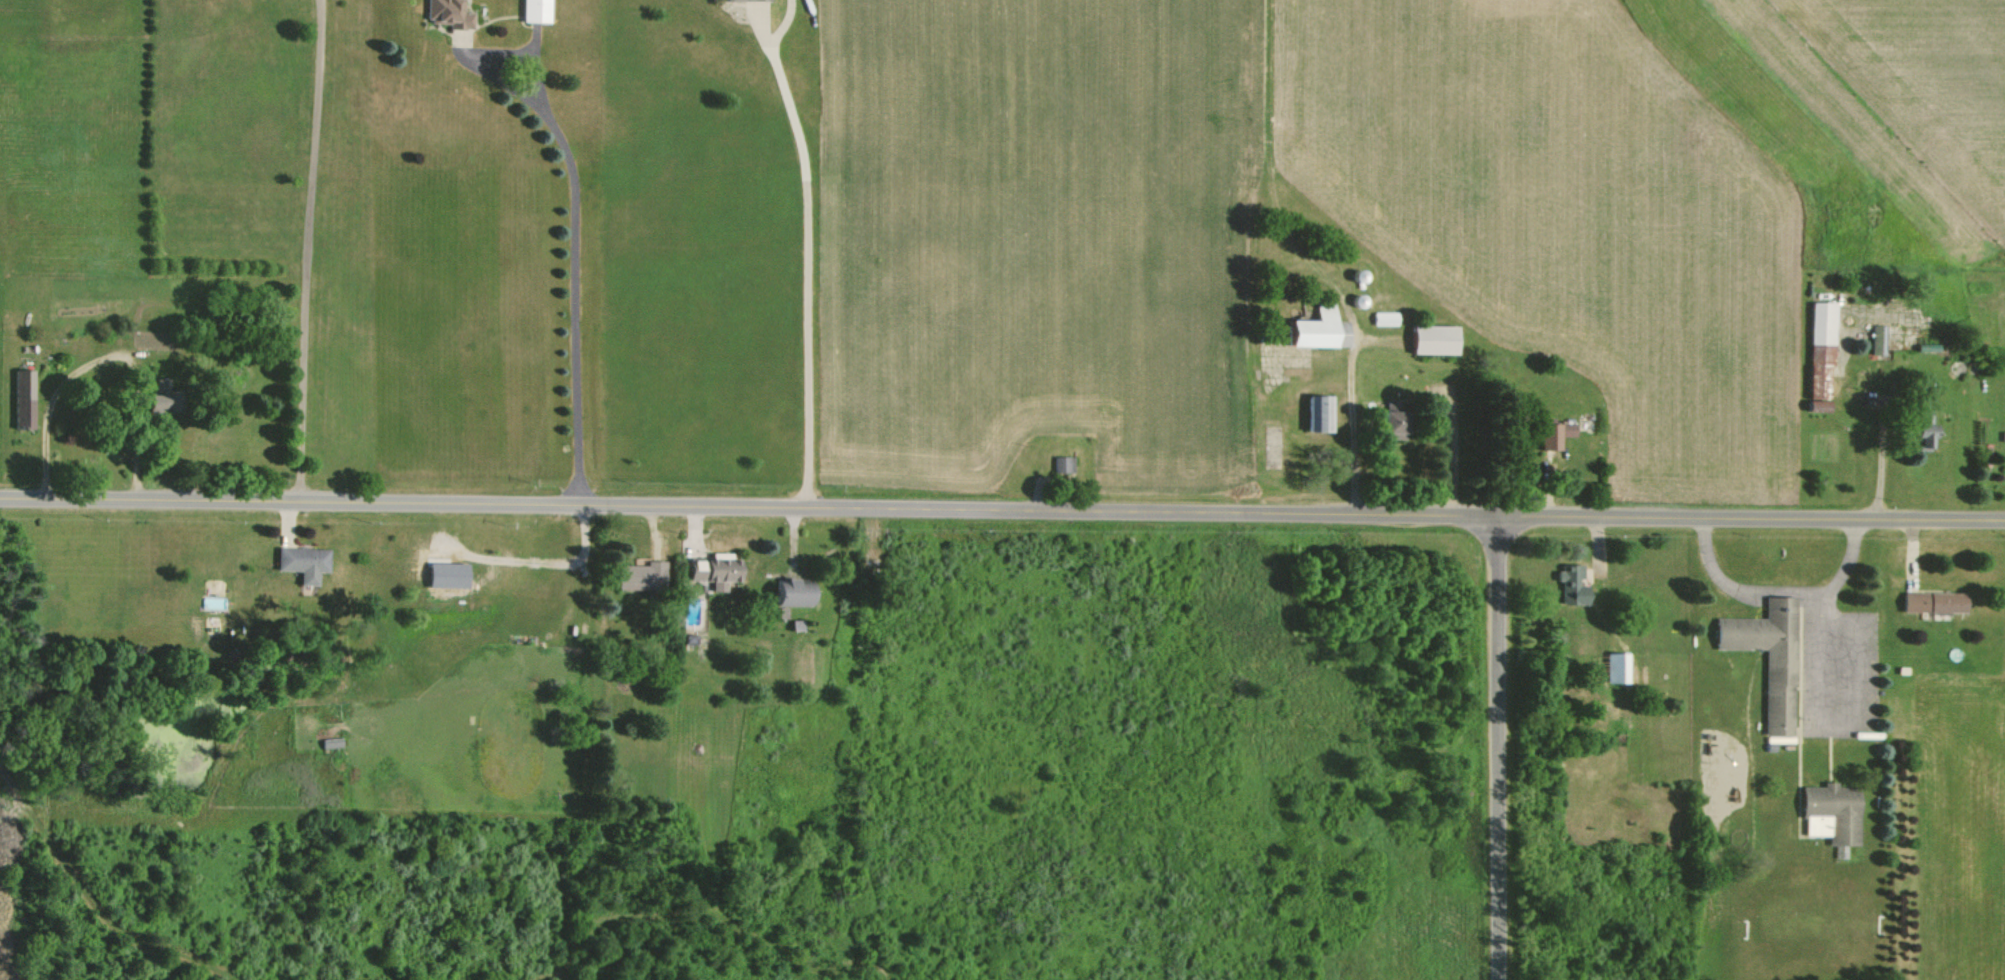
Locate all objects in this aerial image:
building: (749, 0)
building: (535, 10)
building: (447, 13)
road: (308, 249)
road: (577, 257)
road: (807, 258)
building: (1313, 328)
building: (1432, 339)
building: (1878, 339)
building: (1820, 354)
road: (103, 356)
building: (21, 398)
building: (151, 400)
building: (1318, 413)
road: (1351, 420)
building: (1390, 424)
building: (1923, 429)
building: (1555, 433)
road: (1459, 446)
road: (1881, 458)
building: (1064, 464)
road: (1002, 508)
building: (299, 562)
building: (710, 571)
building: (444, 575)
building: (638, 576)
building: (1571, 582)
road: (1781, 589)
building: (792, 592)
building: (1933, 602)
building: (1770, 657)
building: (1620, 667)
road: (1503, 747)
building: (1832, 813)

